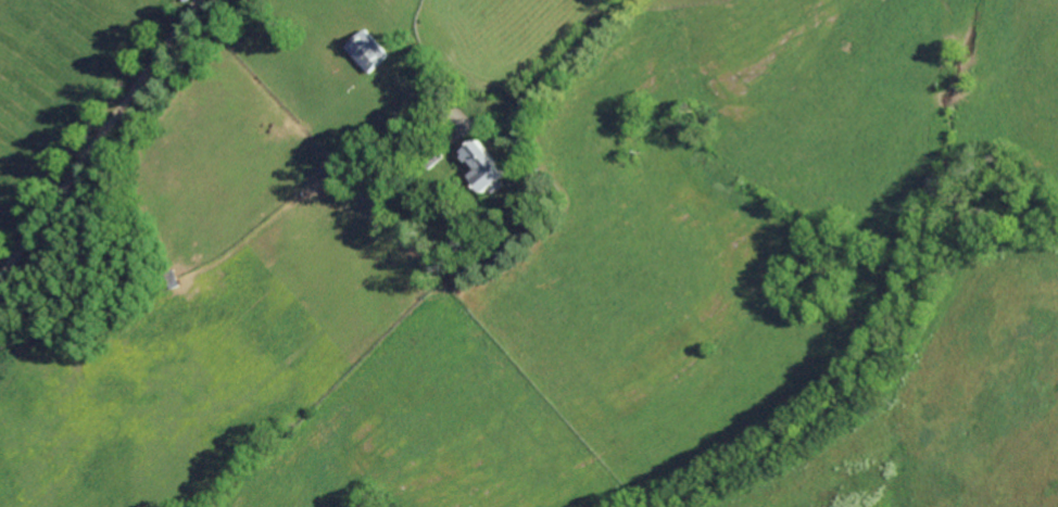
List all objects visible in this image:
building: (367, 50)
road: (562, 64)
building: (434, 159)
building: (484, 165)

